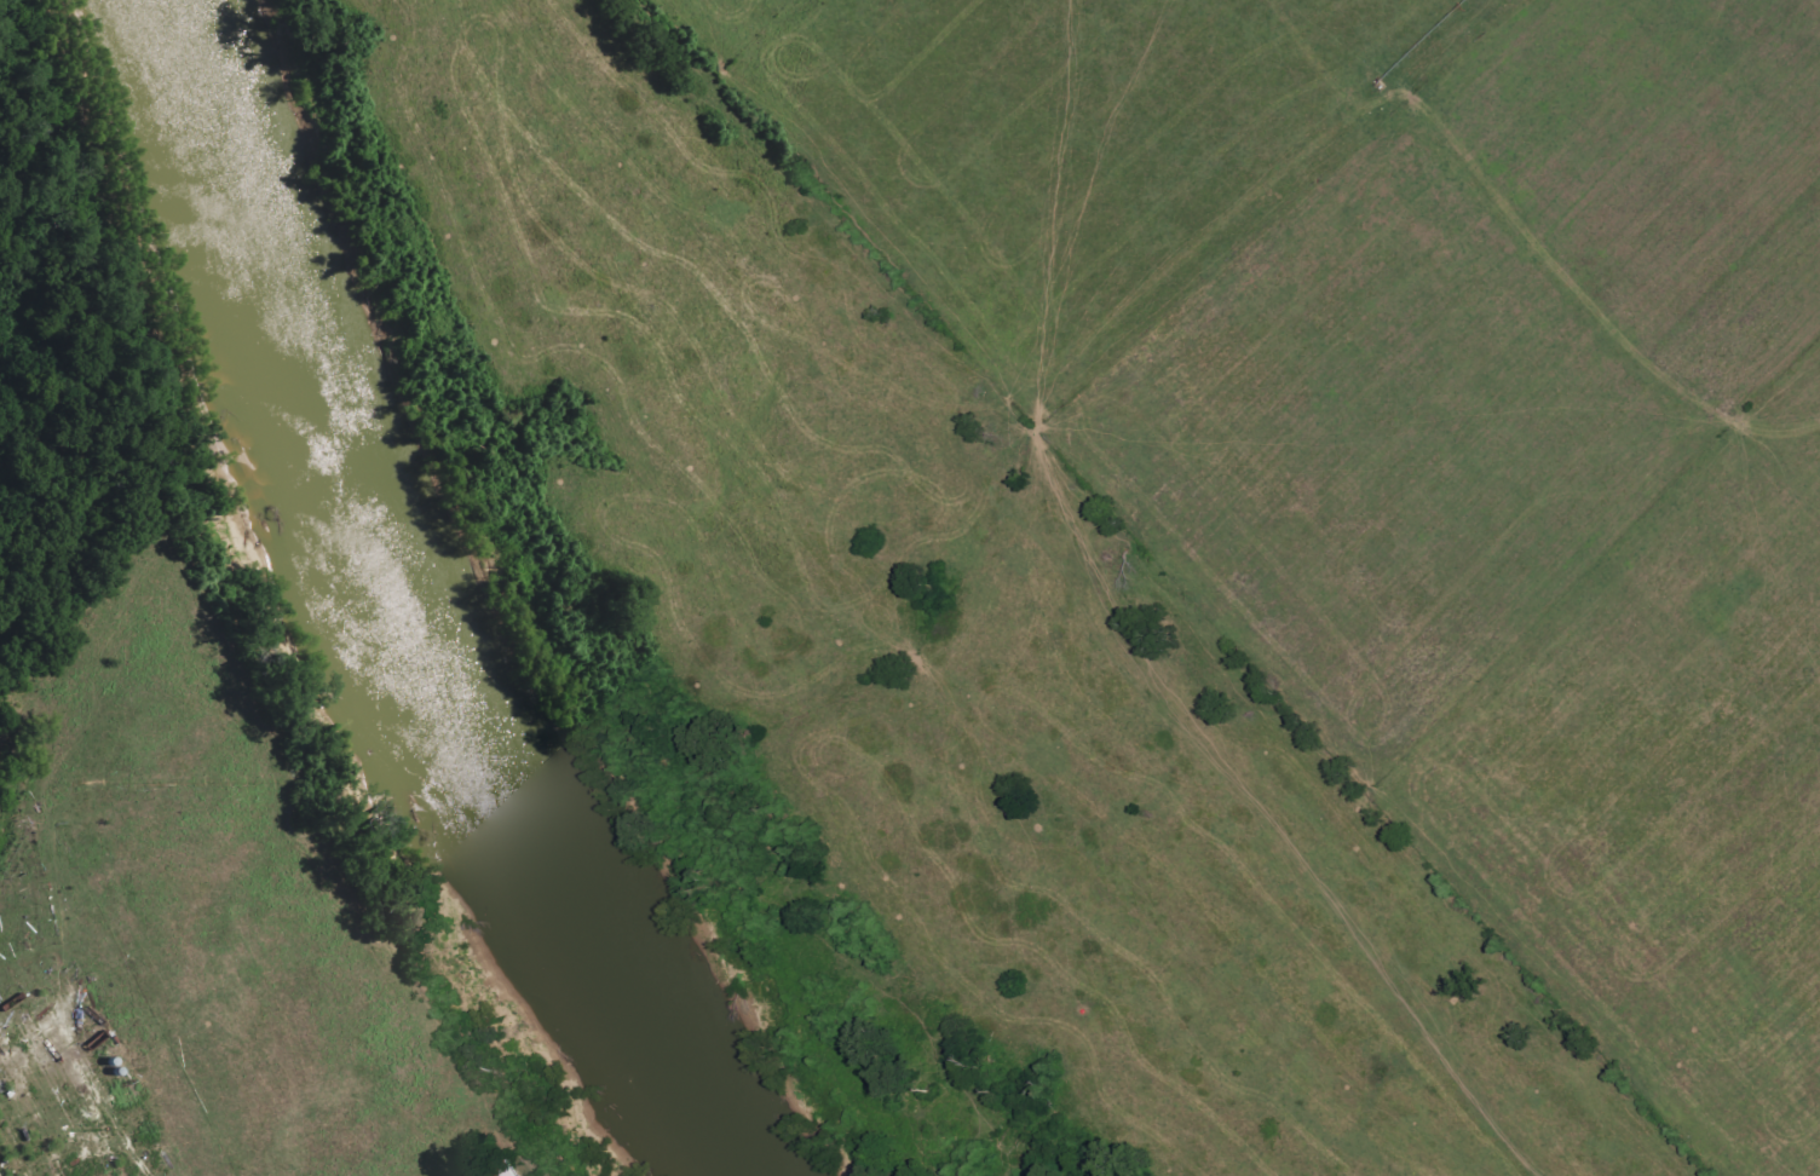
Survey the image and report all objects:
river: (445, 611)

